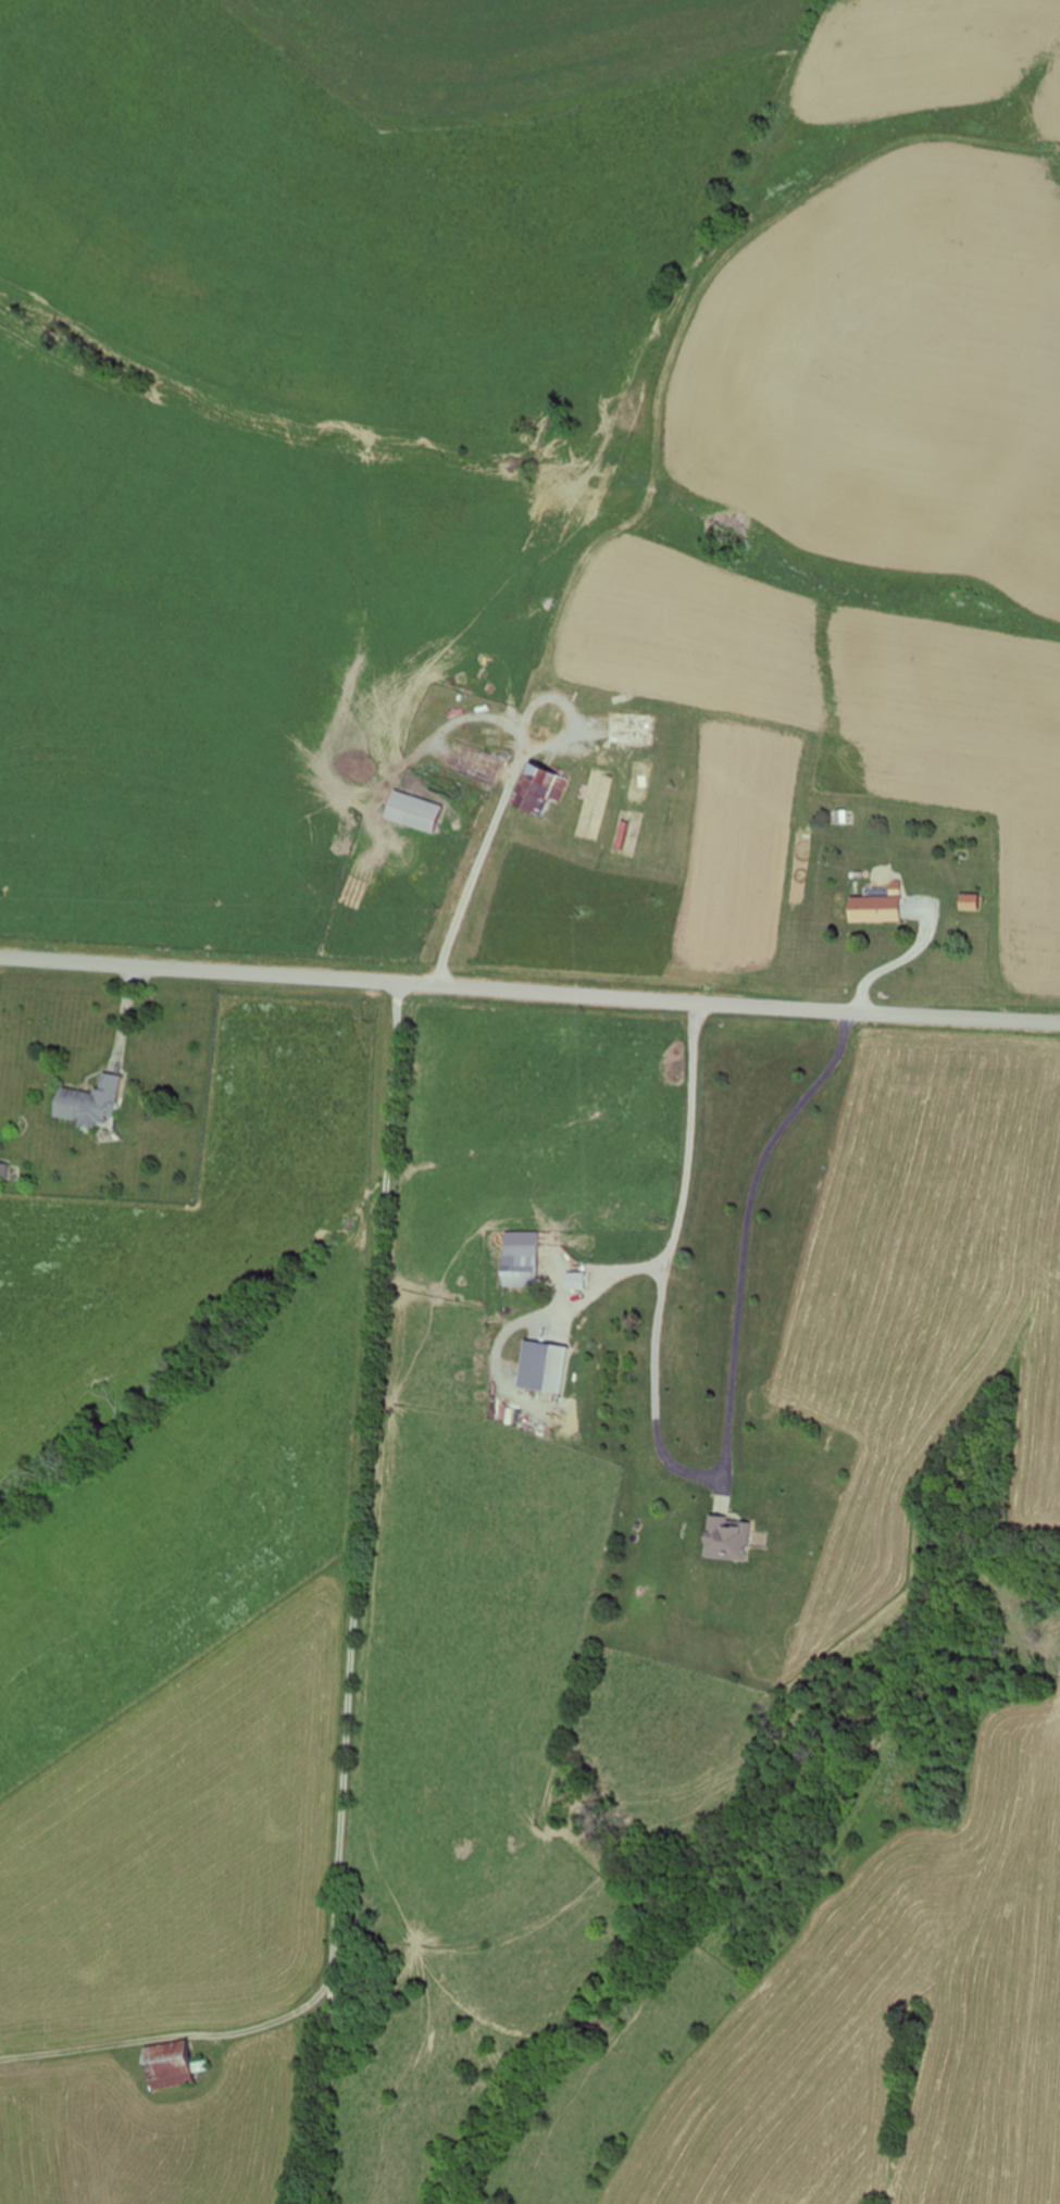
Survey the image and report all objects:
building: (636, 730)
building: (479, 764)
building: (546, 789)
building: (596, 805)
building: (424, 812)
building: (628, 834)
building: (885, 910)
road: (529, 992)
building: (101, 1104)
building: (524, 1266)
building: (578, 1282)
building: (550, 1367)
building: (738, 1540)
road: (387, 1595)
building: (182, 2066)

